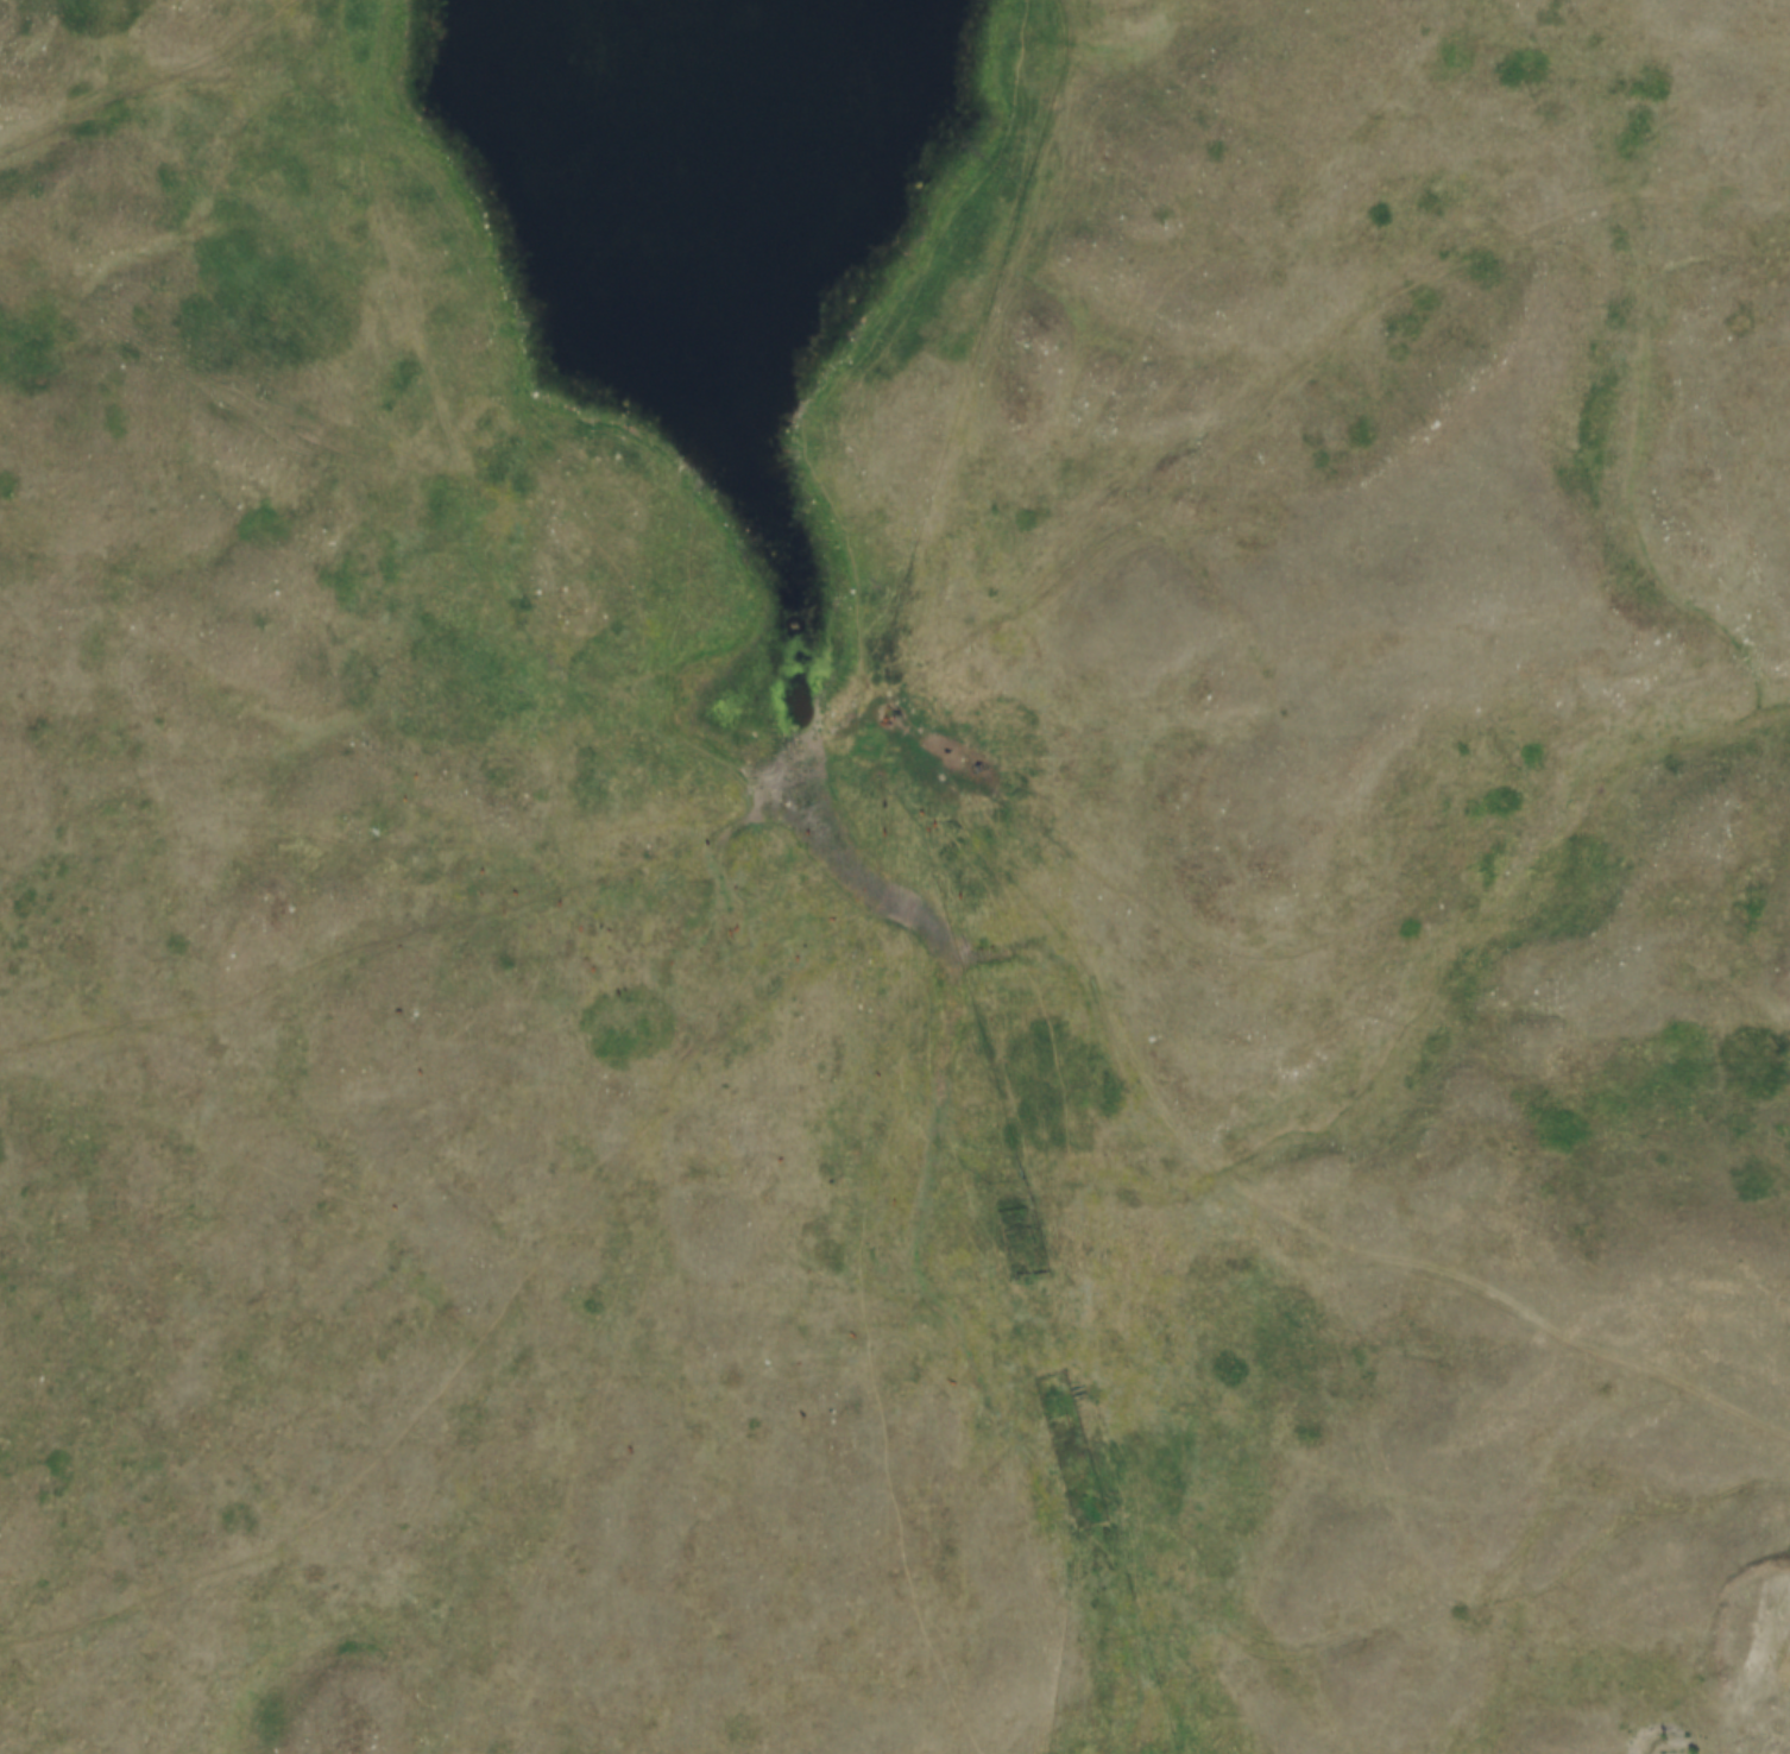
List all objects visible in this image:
quarry: (1741, 1674)

